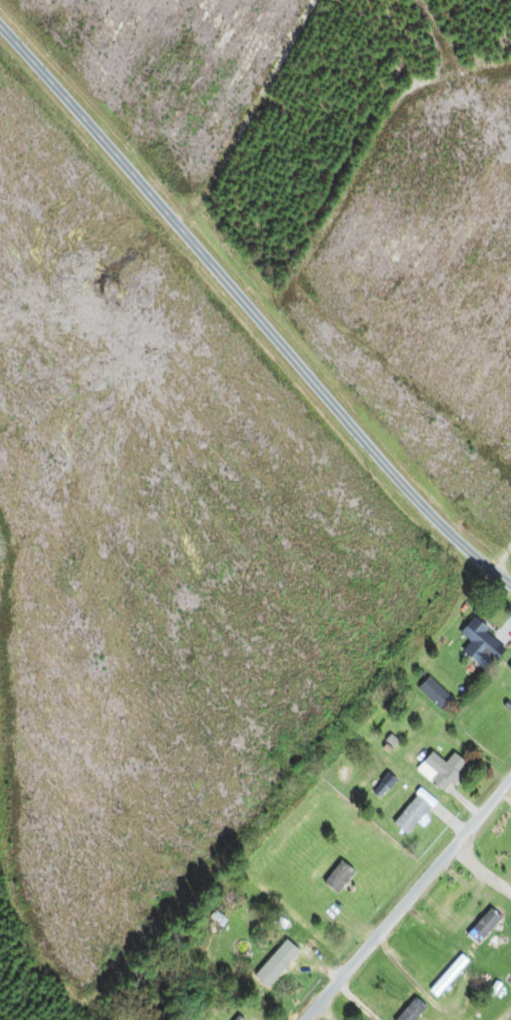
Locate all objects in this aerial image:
road: (250, 311)
road: (502, 558)
building: (475, 642)
building: (431, 694)
building: (439, 770)
building: (408, 816)
building: (336, 877)
road: (406, 897)
building: (481, 926)
building: (278, 970)
building: (410, 1011)
building: (235, 1019)

